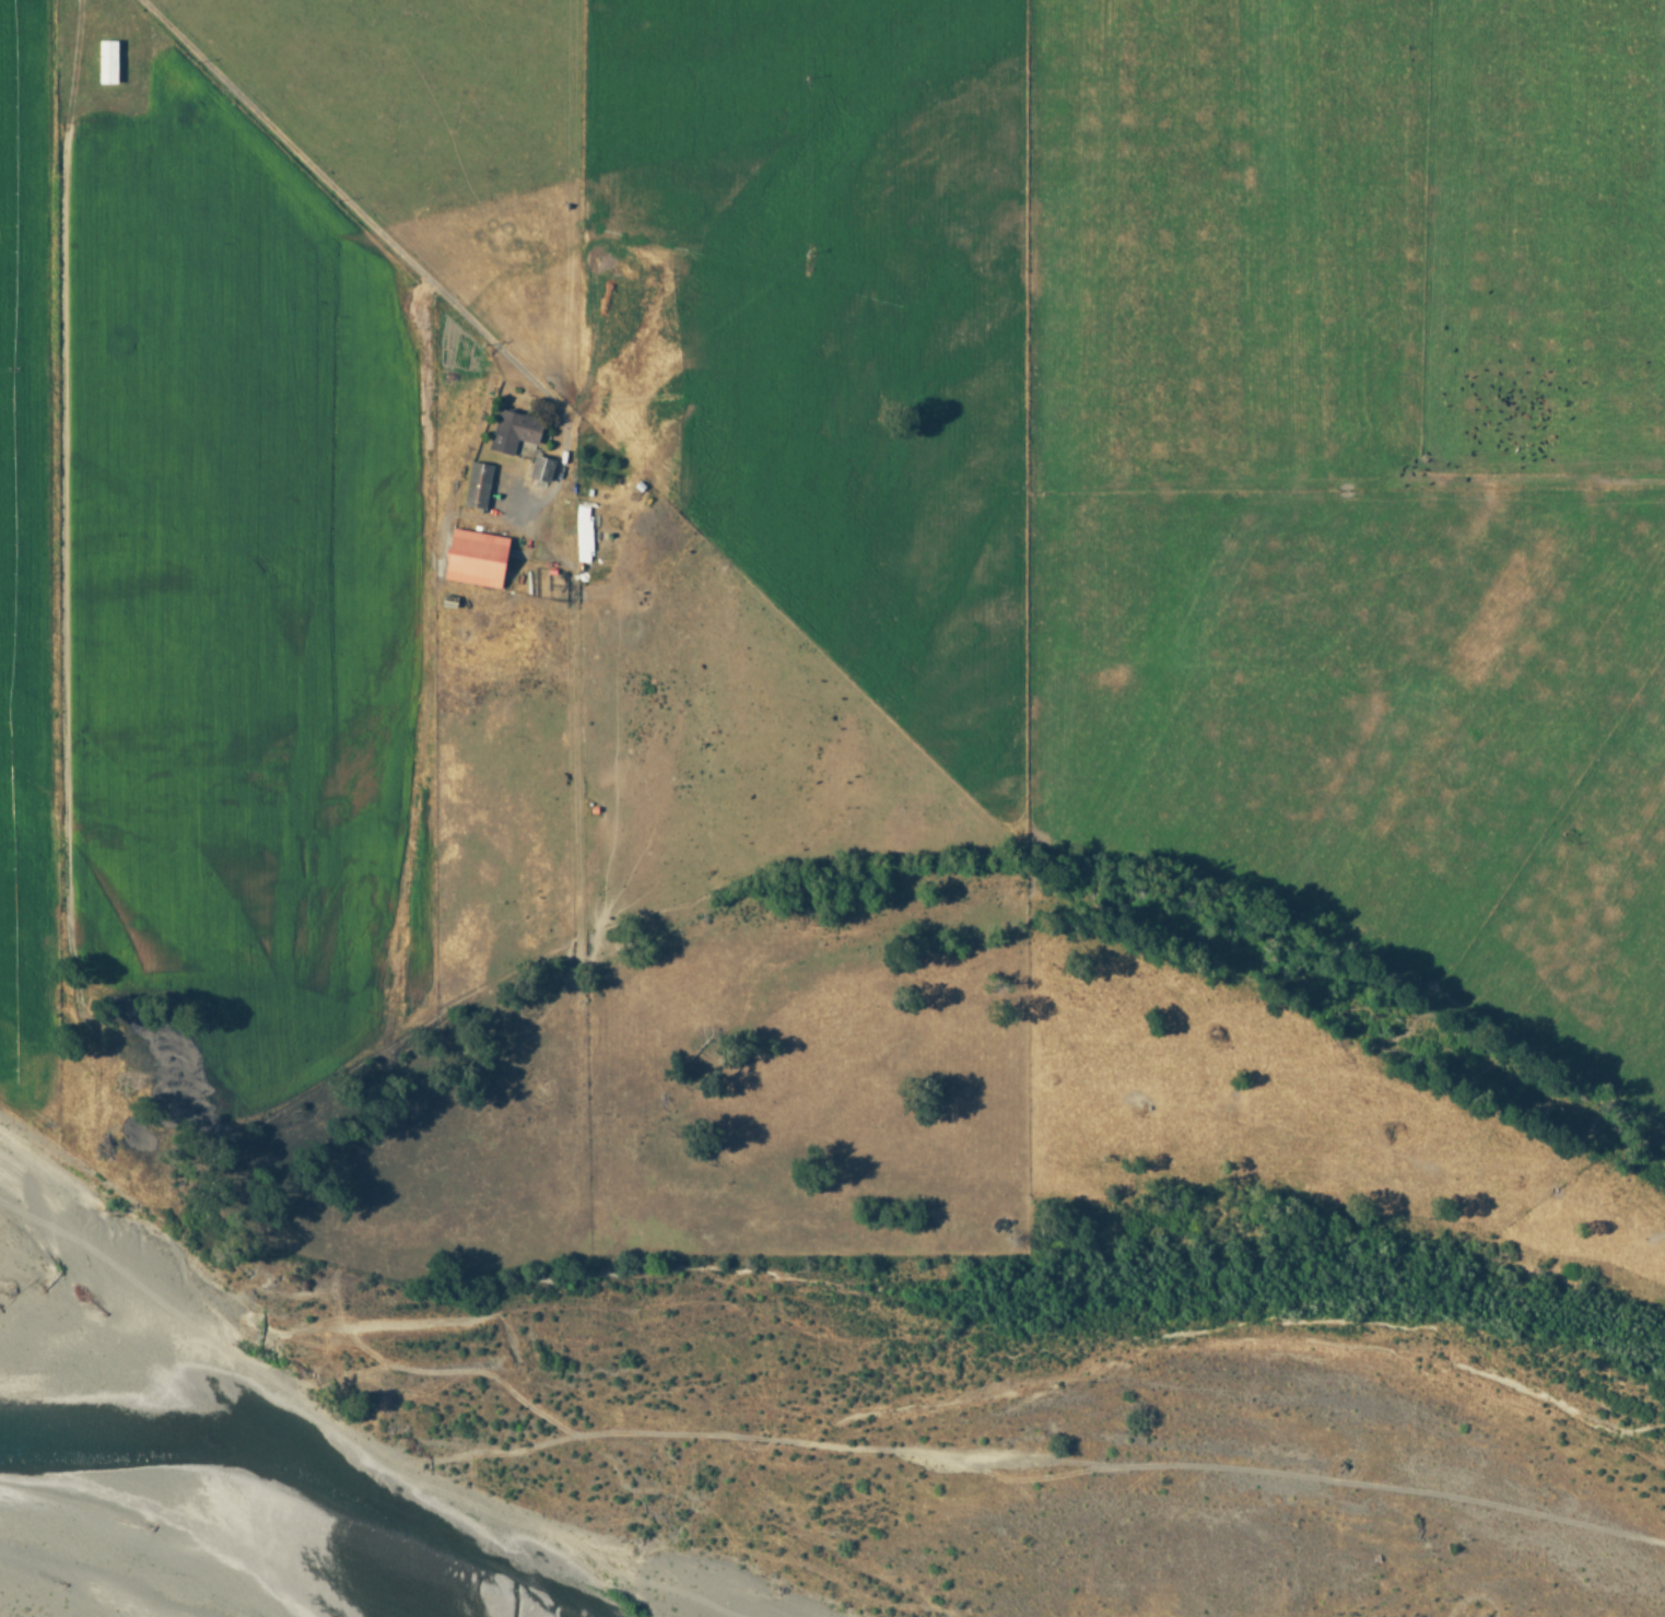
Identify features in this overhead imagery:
road: (387, 237)
building: (512, 431)
building: (538, 468)
building: (476, 484)
building: (471, 556)
river: (1078, 1231)
river: (514, 1579)

